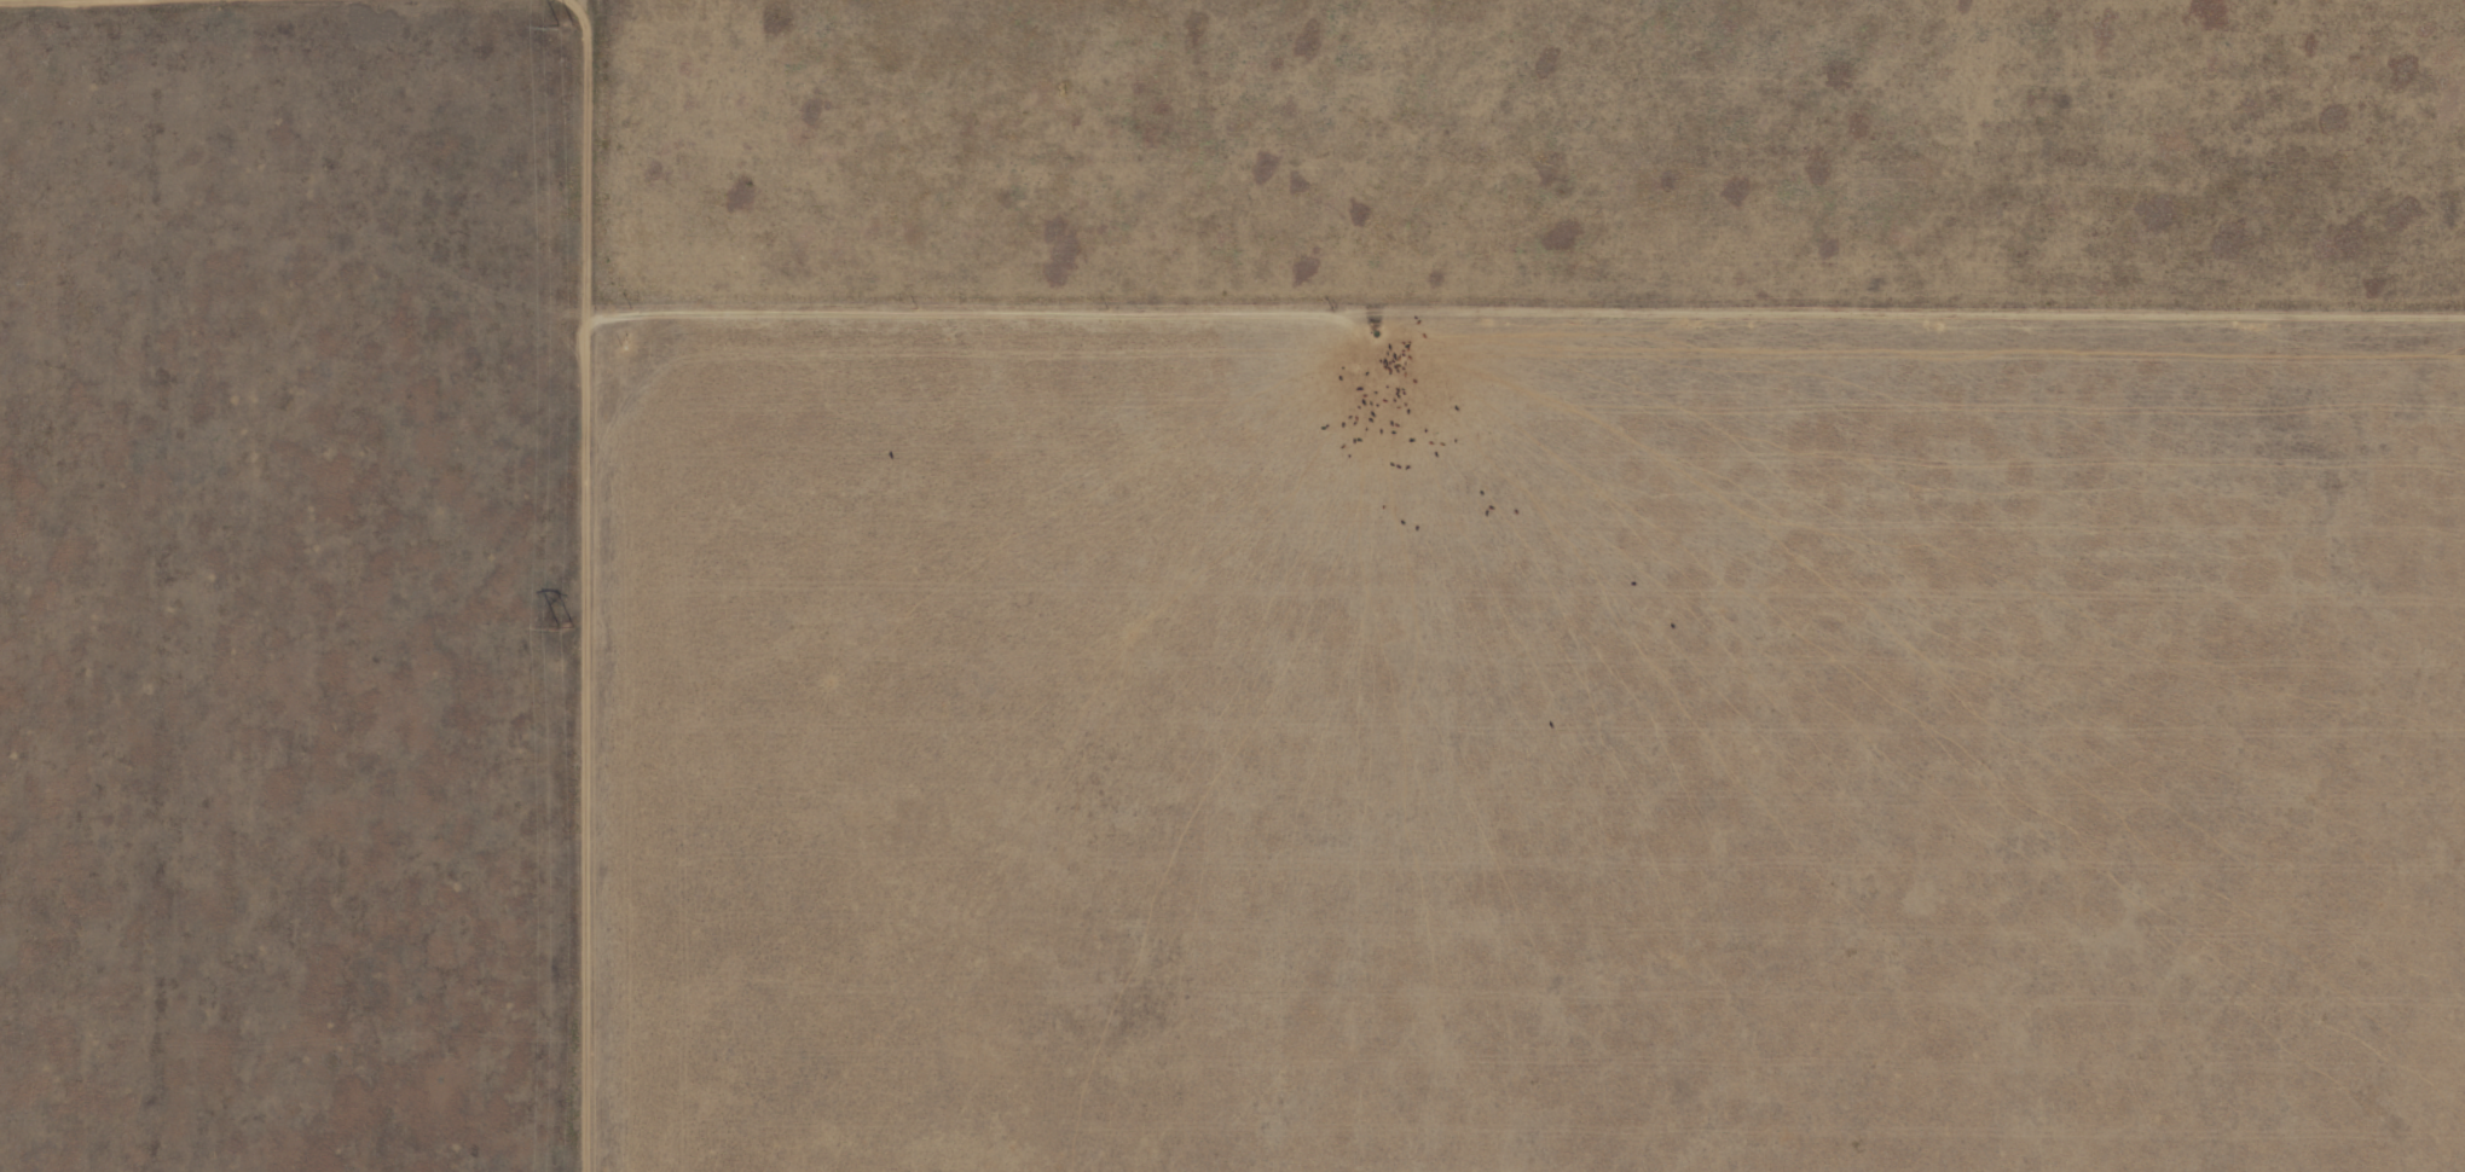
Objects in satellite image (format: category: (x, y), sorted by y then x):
power tower: (566, 24)
road: (590, 585)
power tower: (566, 626)

